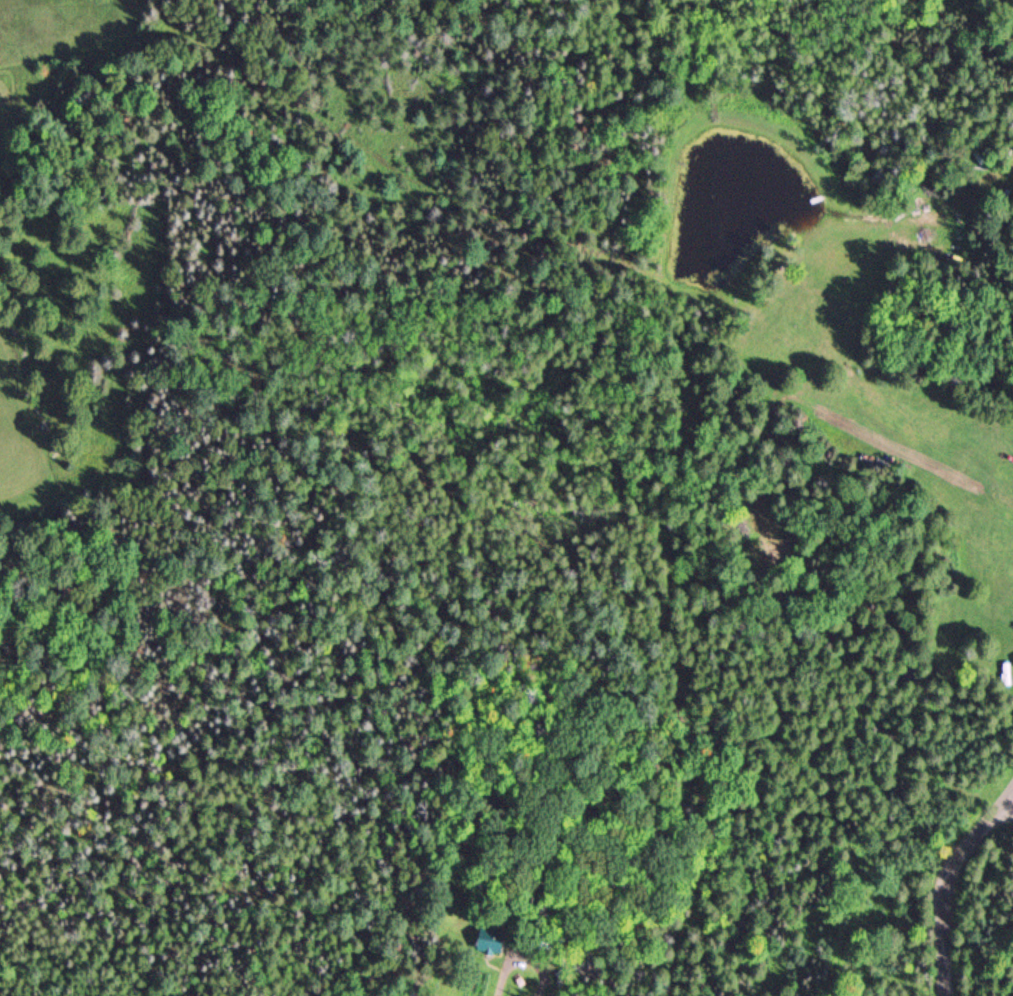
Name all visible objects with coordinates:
building: (486, 943)

